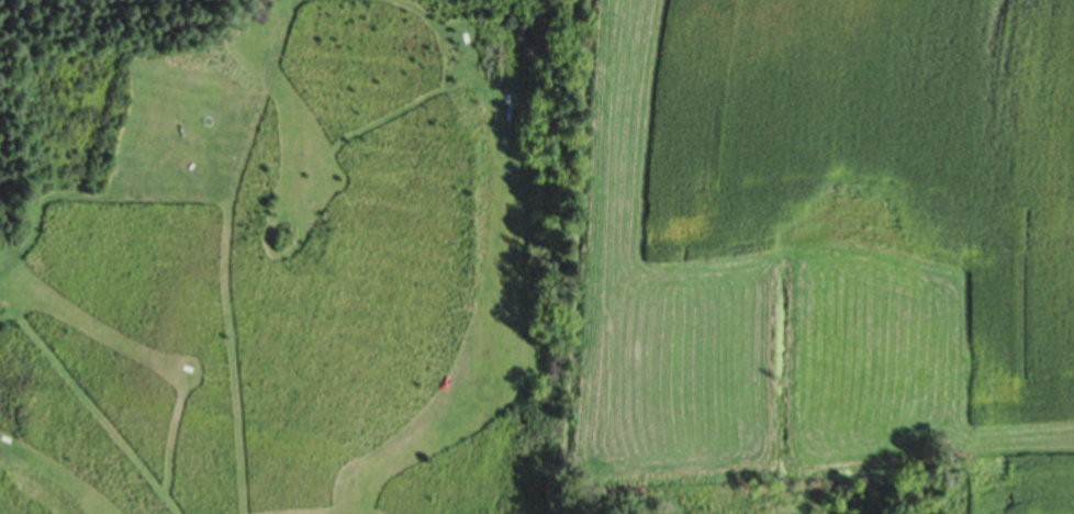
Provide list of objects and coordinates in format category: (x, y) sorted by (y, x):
park: (282, 256)
road: (231, 338)

